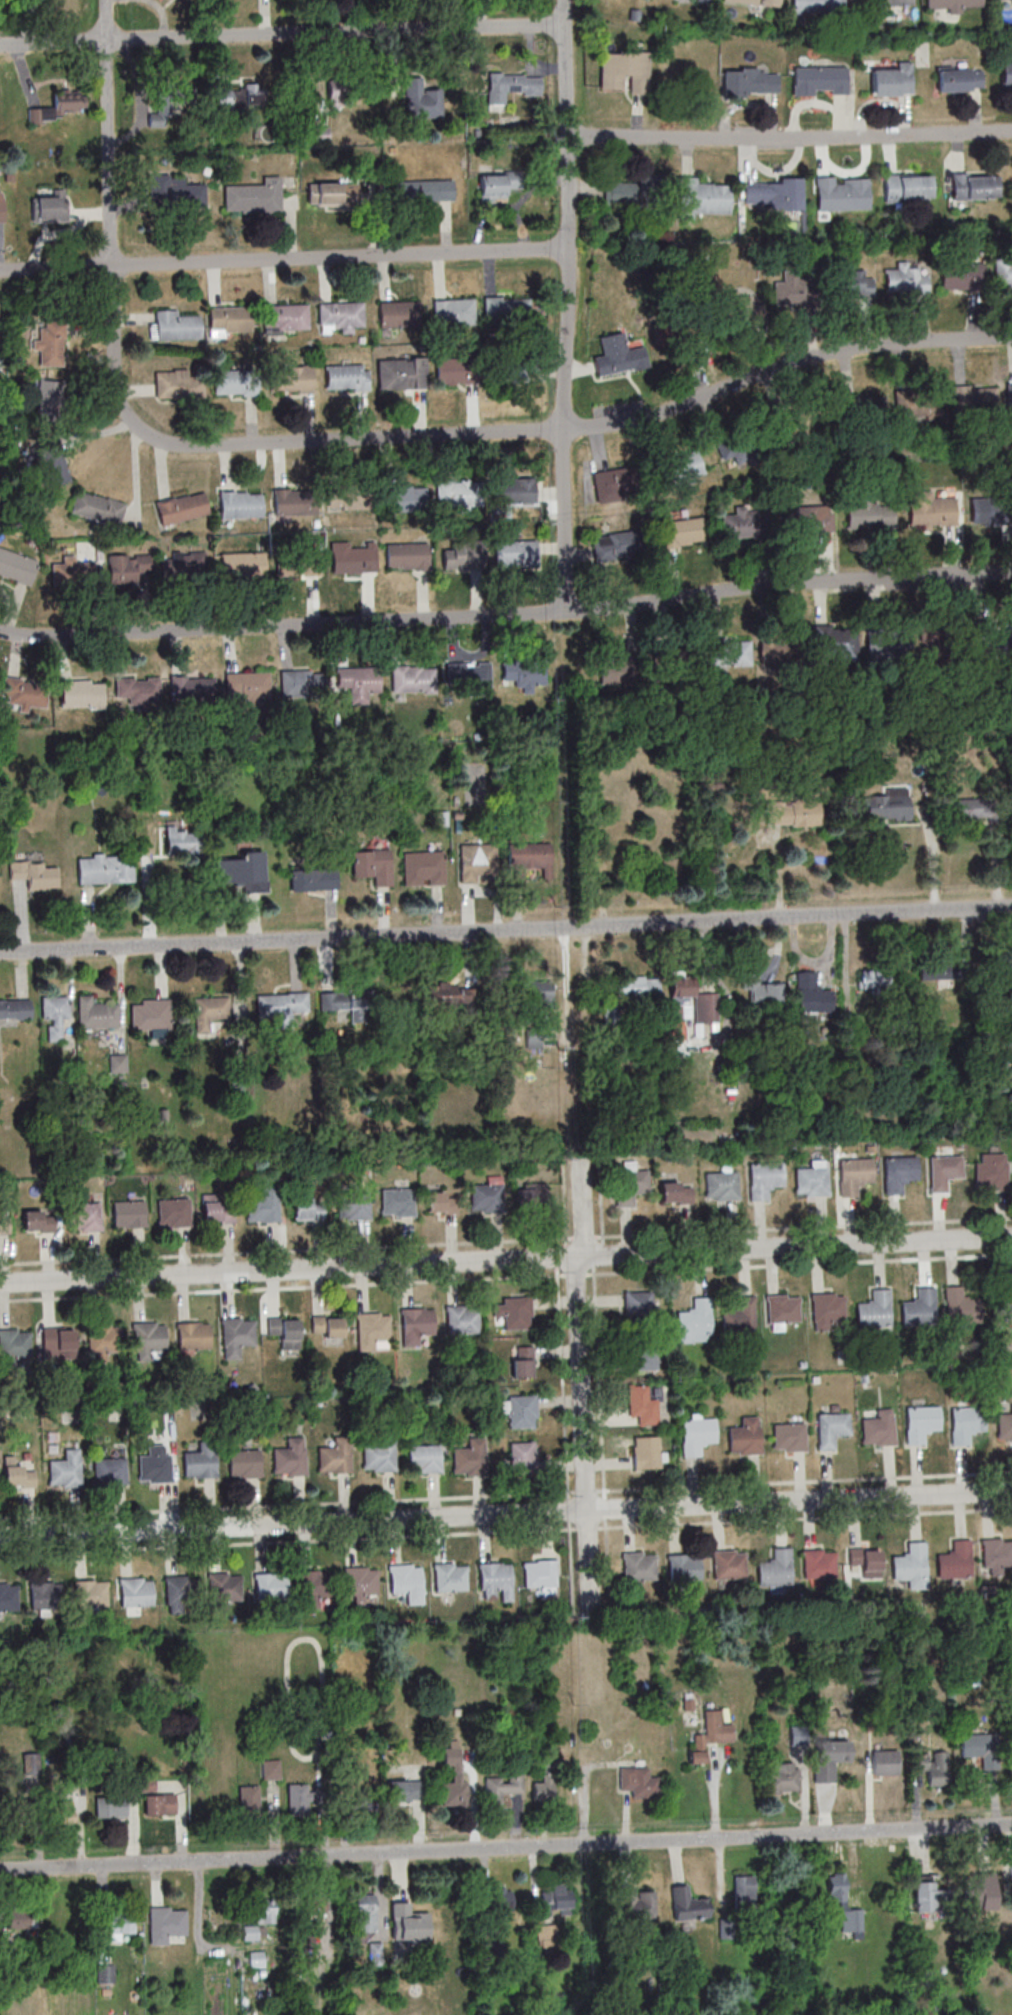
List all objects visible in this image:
building: (1003, 0)
building: (701, 1)
building: (895, 2)
building: (755, 3)
building: (950, 3)
building: (816, 6)
road: (282, 32)
building: (625, 71)
building: (1006, 73)
building: (817, 81)
building: (890, 82)
building: (956, 82)
building: (748, 83)
building: (511, 86)
building: (341, 93)
building: (246, 98)
building: (423, 100)
building: (169, 101)
building: (59, 107)
road: (108, 132)
building: (322, 133)
road: (790, 139)
building: (499, 184)
building: (900, 185)
building: (975, 185)
building: (424, 190)
building: (175, 191)
building: (332, 193)
building: (623, 193)
building: (778, 193)
building: (838, 193)
building: (251, 195)
building: (702, 198)
building: (2, 208)
building: (49, 209)
road: (283, 259)
building: (1001, 271)
building: (957, 273)
building: (903, 279)
building: (849, 282)
building: (792, 291)
road: (567, 305)
building: (450, 311)
building: (504, 311)
building: (394, 313)
building: (338, 314)
building: (282, 316)
building: (227, 318)
building: (173, 325)
building: (713, 327)
building: (51, 349)
building: (615, 354)
building: (503, 369)
building: (453, 370)
building: (398, 373)
building: (342, 376)
building: (289, 378)
building: (231, 382)
building: (176, 384)
building: (1009, 396)
building: (49, 400)
building: (969, 401)
building: (918, 405)
building: (865, 409)
building: (802, 416)
road: (495, 430)
building: (749, 448)
building: (50, 464)
building: (685, 466)
building: (611, 486)
building: (514, 490)
building: (457, 491)
building: (344, 496)
building: (400, 498)
building: (292, 501)
building: (237, 504)
building: (94, 507)
building: (177, 507)
building: (927, 508)
building: (988, 508)
building: (870, 515)
building: (804, 518)
building: (742, 522)
building: (680, 532)
building: (615, 546)
building: (512, 551)
building: (460, 553)
building: (403, 555)
building: (351, 559)
building: (294, 561)
building: (15, 565)
building: (185, 565)
building: (243, 565)
building: (129, 567)
building: (72, 572)
road: (787, 582)
road: (281, 624)
building: (832, 643)
building: (885, 643)
building: (936, 644)
building: (991, 644)
building: (777, 649)
building: (728, 653)
building: (672, 660)
building: (520, 672)
building: (616, 672)
building: (464, 674)
building: (353, 677)
building: (408, 677)
building: (299, 681)
building: (243, 684)
building: (133, 690)
building: (189, 690)
building: (25, 694)
building: (79, 694)
building: (887, 806)
building: (965, 809)
building: (794, 813)
building: (622, 838)
building: (181, 840)
building: (526, 854)
building: (478, 863)
building: (369, 865)
building: (421, 867)
building: (101, 868)
building: (234, 870)
building: (34, 874)
building: (310, 879)
road: (506, 930)
building: (875, 978)
building: (637, 986)
building: (762, 990)
building: (450, 993)
building: (539, 994)
building: (812, 994)
building: (364, 996)
building: (695, 998)
building: (282, 1003)
building: (13, 1010)
building: (210, 1012)
building: (611, 1014)
building: (95, 1015)
building: (54, 1016)
building: (149, 1016)
building: (117, 1063)
building: (992, 1170)
building: (897, 1171)
building: (943, 1171)
building: (853, 1174)
building: (762, 1178)
building: (809, 1180)
building: (629, 1185)
building: (720, 1185)
building: (676, 1192)
building: (488, 1194)
building: (533, 1195)
building: (398, 1202)
building: (443, 1203)
building: (354, 1206)
road: (583, 1206)
building: (264, 1208)
building: (218, 1209)
building: (309, 1210)
building: (174, 1212)
building: (129, 1214)
building: (84, 1216)
building: (39, 1220)
building: (5, 1222)
road: (506, 1240)
road: (799, 1246)
road: (579, 1256)
road: (286, 1268)
road: (296, 1286)
building: (639, 1303)
building: (961, 1306)
building: (1001, 1306)
building: (918, 1308)
building: (873, 1309)
building: (783, 1311)
building: (829, 1311)
building: (514, 1312)
building: (738, 1316)
building: (460, 1318)
building: (693, 1318)
building: (413, 1321)
building: (324, 1325)
building: (370, 1326)
building: (282, 1330)
building: (235, 1331)
building: (190, 1335)
building: (145, 1336)
building: (103, 1340)
building: (59, 1343)
building: (15, 1346)
building: (643, 1360)
building: (522, 1362)
road: (596, 1376)
road: (561, 1402)
building: (642, 1405)
building: (520, 1410)
building: (918, 1421)
building: (963, 1422)
building: (1004, 1425)
building: (876, 1427)
building: (829, 1428)
building: (694, 1434)
road: (581, 1435)
building: (745, 1437)
building: (789, 1437)
building: (332, 1455)
building: (375, 1456)
building: (467, 1457)
building: (522, 1457)
building: (424, 1458)
building: (286, 1460)
building: (197, 1461)
building: (241, 1462)
building: (151, 1467)
building: (64, 1469)
building: (106, 1470)
building: (17, 1476)
road: (300, 1502)
road: (506, 1514)
road: (789, 1518)
road: (342, 1538)
building: (997, 1552)
building: (865, 1559)
building: (953, 1560)
building: (908, 1562)
building: (819, 1563)
building: (729, 1564)
building: (639, 1566)
building: (684, 1567)
building: (773, 1568)
road: (569, 1570)
building: (540, 1573)
building: (491, 1575)
building: (446, 1576)
building: (401, 1578)
building: (357, 1580)
building: (311, 1582)
building: (219, 1586)
building: (177, 1589)
building: (269, 1589)
building: (132, 1591)
building: (87, 1593)
building: (44, 1595)
building: (7, 1597)
building: (710, 1736)
building: (979, 1745)
building: (830, 1758)
building: (884, 1762)
building: (933, 1766)
building: (271, 1769)
building: (783, 1778)
building: (453, 1779)
building: (638, 1782)
building: (505, 1783)
building: (545, 1785)
building: (406, 1790)
building: (248, 1798)
building: (300, 1799)
building: (160, 1804)
building: (111, 1808)
building: (60, 1812)
road: (506, 1848)
building: (750, 1890)
building: (980, 1892)
building: (925, 1896)
building: (501, 1899)
building: (556, 1899)
building: (639, 1903)
building: (688, 1904)
building: (845, 1904)
building: (311, 1906)
building: (264, 1912)
building: (365, 1913)
building: (23, 1921)
building: (408, 1922)
building: (166, 1923)
building: (119, 1925)
building: (249, 1933)
building: (304, 1944)
building: (105, 1973)

